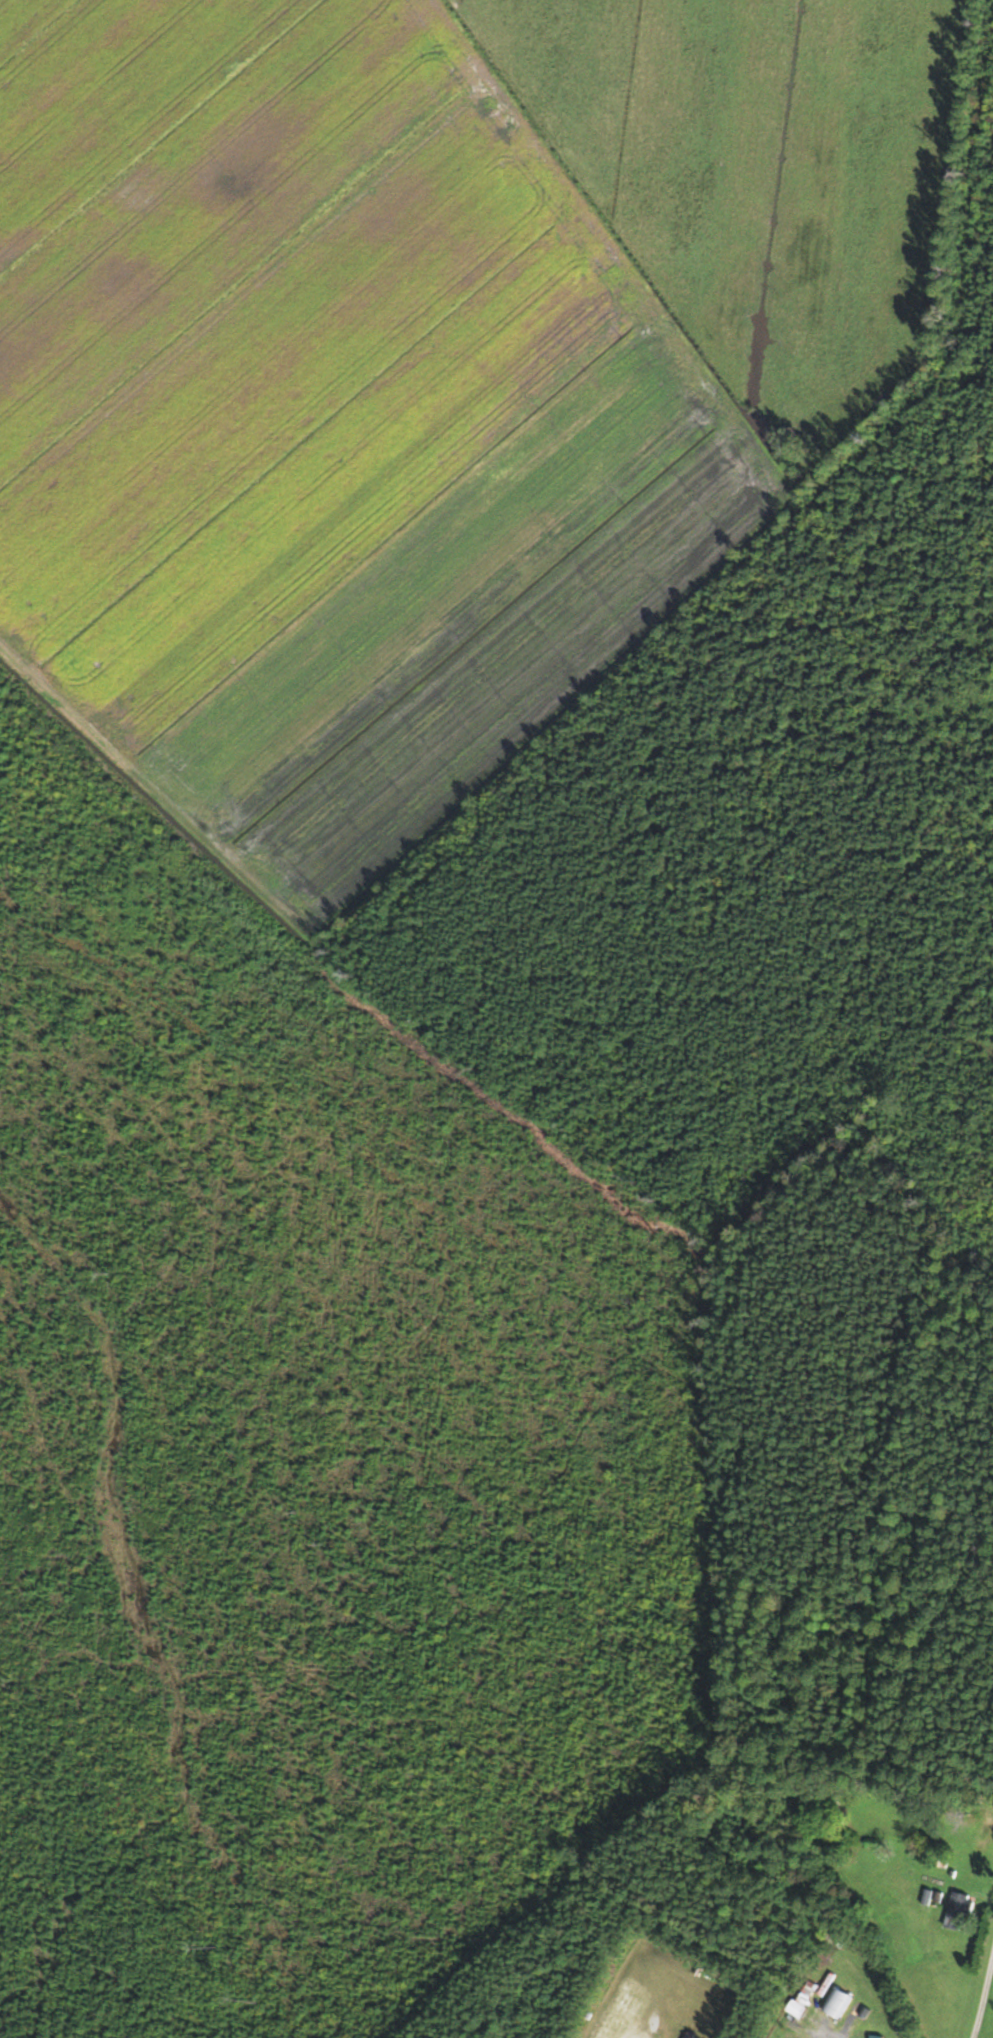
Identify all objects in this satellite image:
building: (984, 1831)
building: (939, 1858)
building: (956, 1910)
building: (802, 1997)
road: (984, 2001)
building: (836, 2002)

